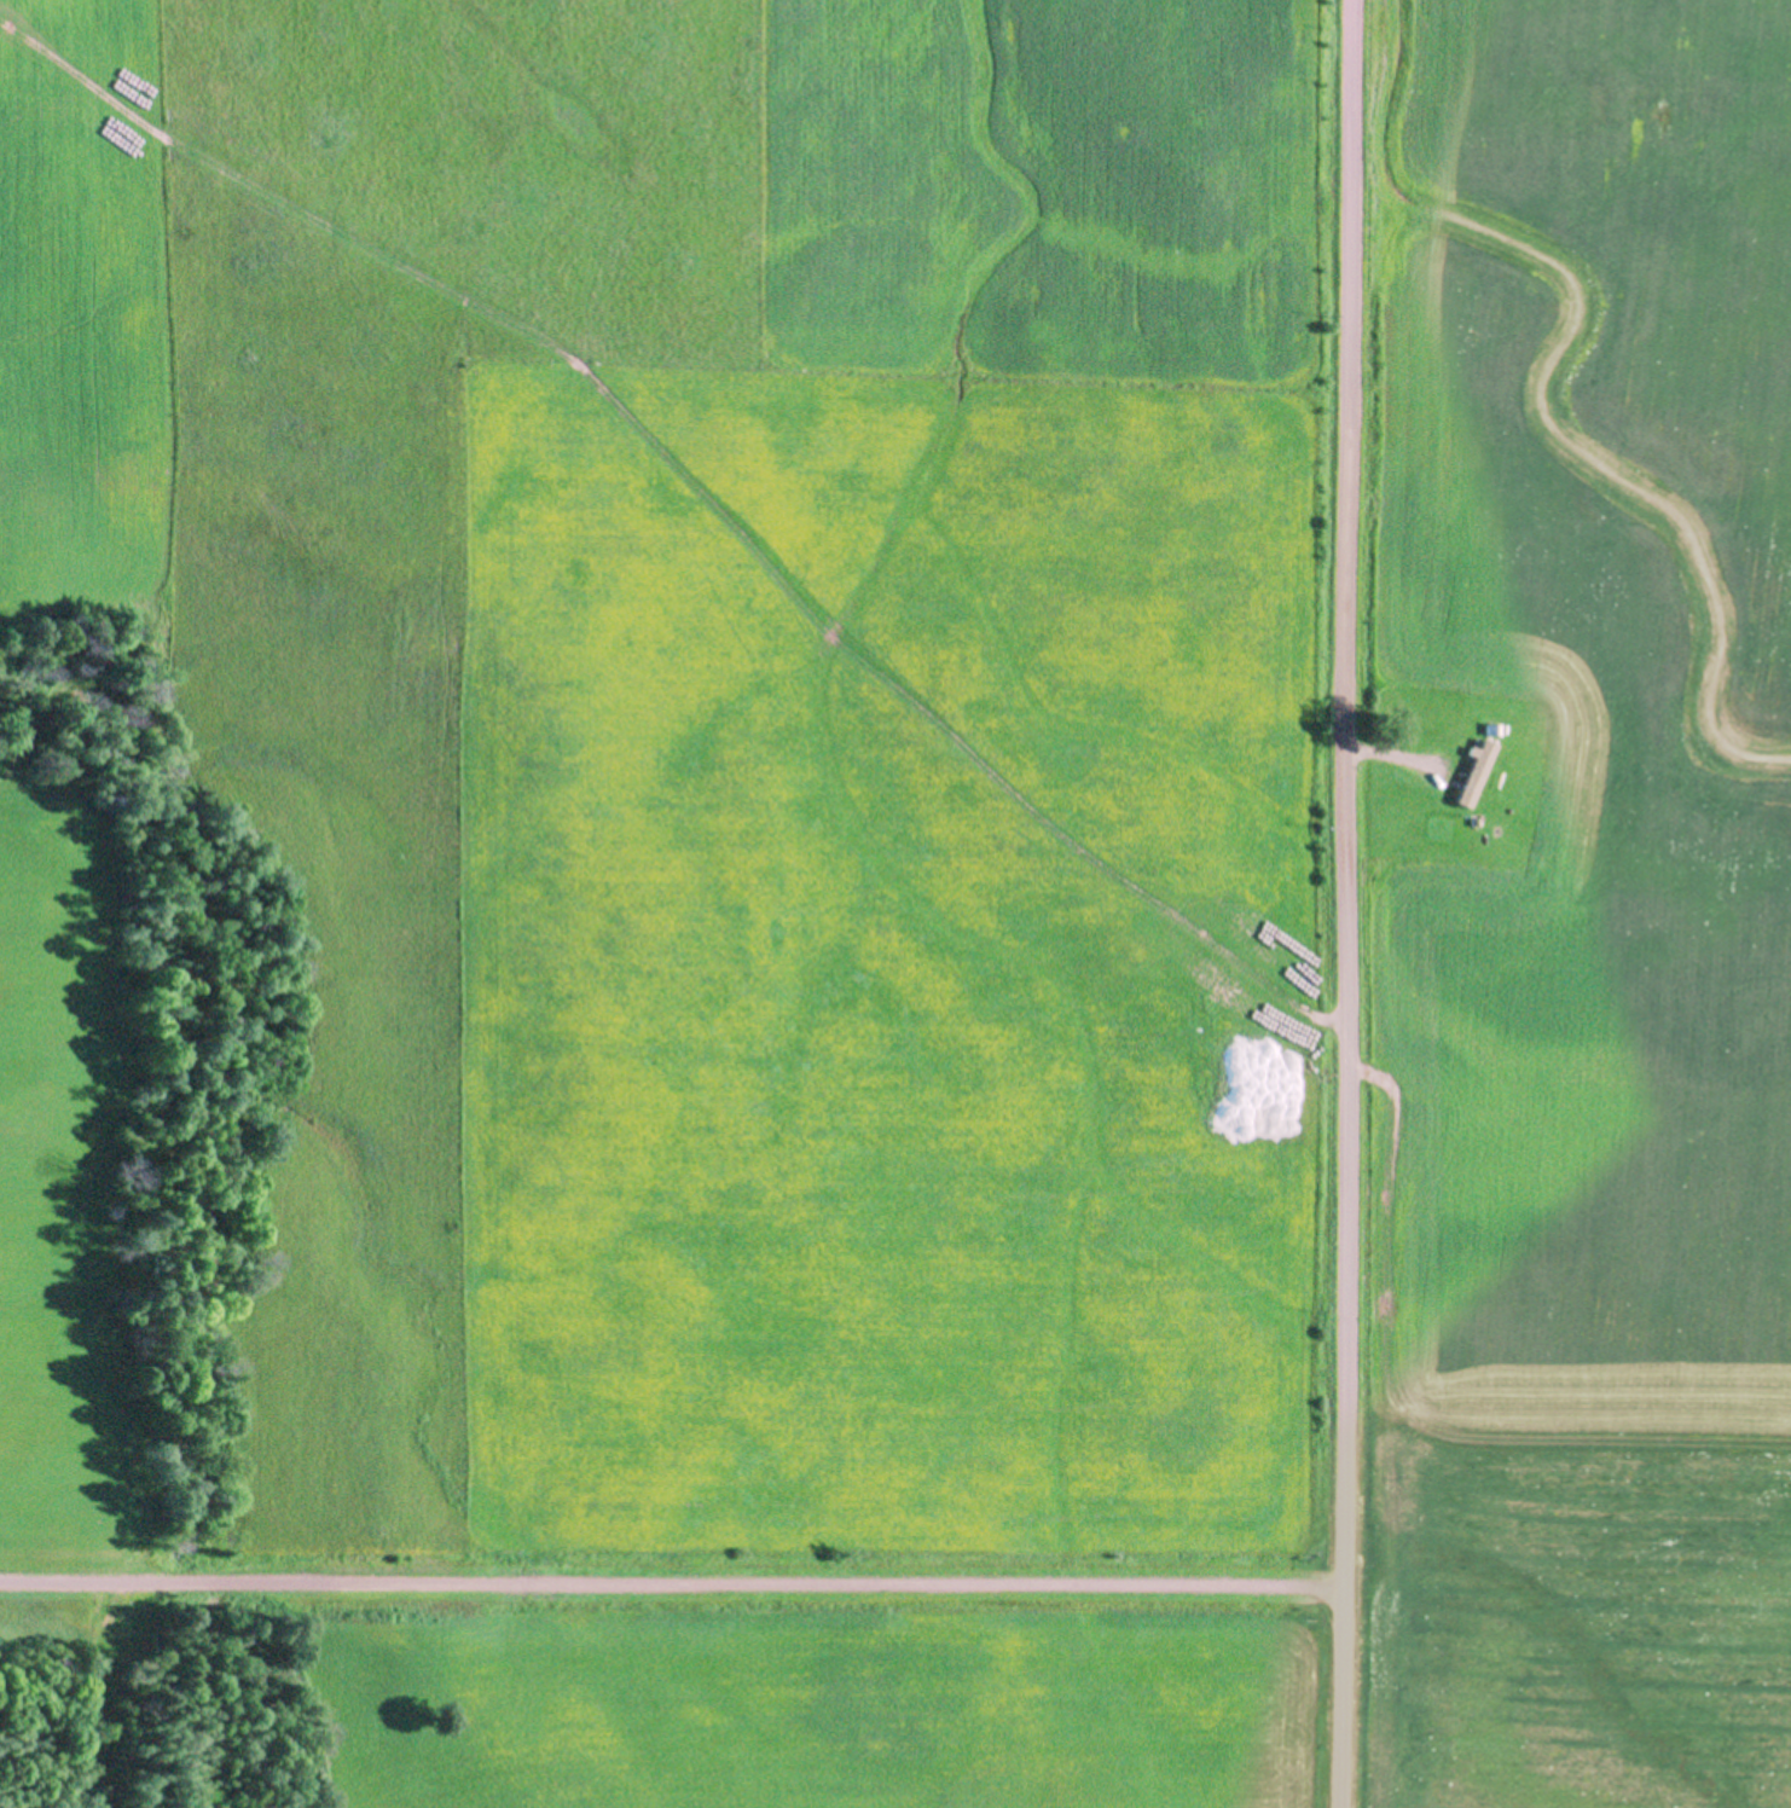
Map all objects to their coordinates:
building: (1491, 728)
road: (1389, 758)
building: (1476, 771)
road: (1344, 903)
road: (671, 1582)

